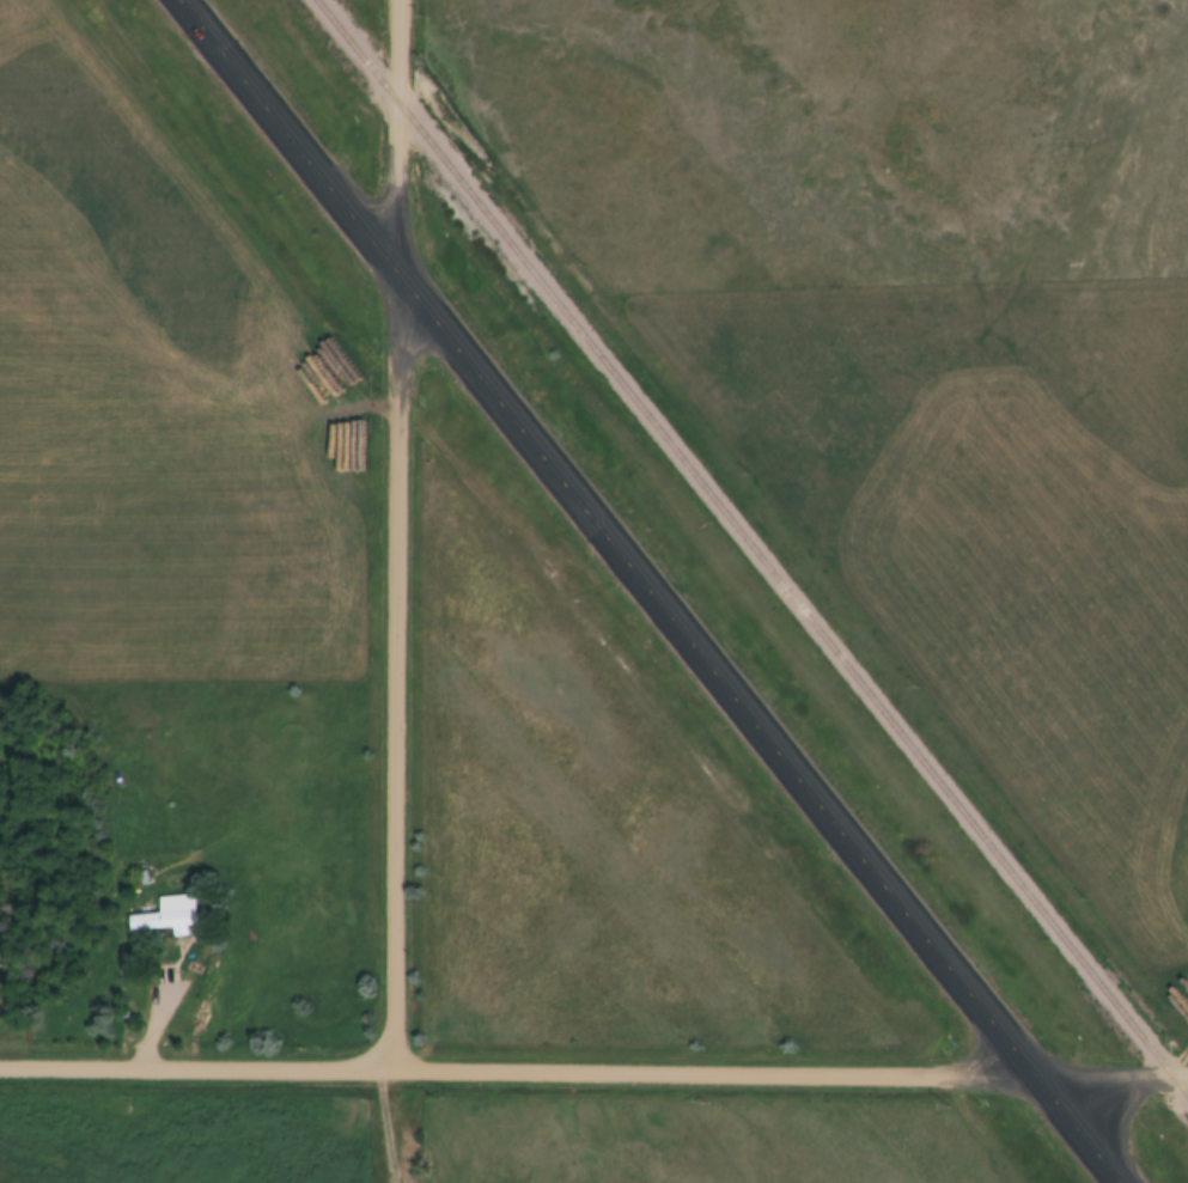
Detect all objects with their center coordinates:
road: (398, 536)
railway: (751, 549)
road: (644, 591)
building: (170, 914)
road: (585, 1074)
road: (1180, 1079)

